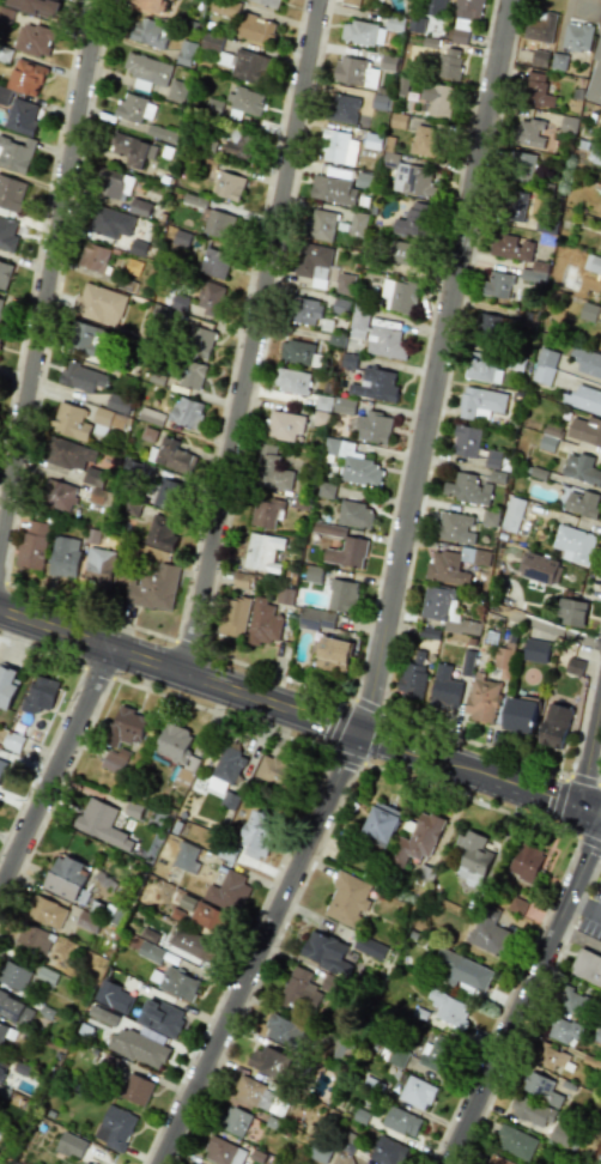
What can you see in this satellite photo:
building: (351, 1)
building: (268, 2)
building: (150, 5)
building: (35, 6)
building: (225, 7)
building: (435, 7)
building: (5, 14)
building: (465, 19)
building: (417, 24)
building: (540, 28)
building: (255, 29)
building: (150, 34)
building: (363, 34)
building: (577, 37)
building: (35, 40)
building: (212, 42)
building: (184, 53)
building: (539, 59)
building: (388, 62)
building: (449, 63)
building: (249, 67)
building: (147, 71)
building: (354, 73)
building: (25, 78)
building: (594, 79)
building: (175, 91)
building: (538, 91)
building: (5, 96)
building: (436, 101)
building: (245, 103)
building: (344, 108)
building: (134, 109)
building: (22, 117)
building: (397, 120)
building: (159, 133)
building: (529, 133)
building: (372, 141)
building: (426, 141)
building: (238, 144)
building: (338, 147)
building: (130, 150)
building: (16, 153)
building: (594, 154)
building: (522, 166)
building: (413, 181)
building: (113, 183)
building: (227, 186)
building: (332, 189)
building: (11, 193)
building: (515, 206)
building: (139, 207)
building: (413, 220)
building: (110, 223)
building: (217, 224)
building: (356, 224)
building: (320, 225)
building: (7, 235)
building: (511, 247)
building: (136, 248)
building: (403, 253)
building: (93, 256)
building: (214, 263)
building: (312, 263)
building: (591, 263)
road: (48, 266)
building: (4, 274)
building: (342, 284)
building: (497, 285)
building: (400, 295)
building: (210, 298)
building: (1, 304)
building: (98, 304)
building: (305, 311)
building: (588, 311)
building: (358, 326)
building: (492, 327)
building: (0, 335)
road: (250, 337)
building: (86, 338)
building: (198, 341)
building: (384, 342)
building: (600, 344)
building: (296, 352)
building: (588, 362)
road: (431, 365)
building: (545, 365)
building: (482, 368)
building: (192, 375)
building: (81, 377)
building: (291, 381)
building: (375, 384)
building: (584, 399)
building: (480, 402)
building: (117, 404)
building: (342, 405)
building: (187, 412)
building: (153, 417)
building: (108, 418)
building: (71, 422)
building: (284, 425)
building: (372, 428)
building: (585, 430)
building: (548, 439)
building: (466, 441)
building: (68, 454)
building: (171, 455)
building: (492, 459)
building: (353, 463)
building: (581, 468)
building: (271, 469)
building: (93, 477)
building: (467, 489)
building: (326, 490)
building: (57, 495)
building: (169, 495)
building: (578, 502)
building: (132, 509)
building: (266, 511)
building: (511, 514)
building: (354, 515)
building: (455, 528)
building: (160, 533)
building: (573, 544)
building: (34, 545)
building: (262, 550)
building: (348, 551)
building: (65, 557)
building: (99, 565)
building: (451, 565)
building: (538, 568)
building: (153, 587)
building: (341, 596)
building: (442, 608)
building: (571, 612)
building: (235, 618)
building: (315, 619)
building: (263, 623)
road: (544, 628)
building: (429, 632)
building: (536, 651)
building: (333, 654)
building: (503, 661)
building: (467, 662)
building: (575, 666)
road: (177, 672)
building: (413, 675)
building: (7, 687)
building: (444, 689)
building: (40, 695)
building: (482, 698)
building: (520, 715)
building: (554, 726)
building: (126, 727)
building: (12, 741)
building: (176, 745)
road: (588, 746)
building: (114, 762)
road: (450, 764)
building: (1, 766)
building: (272, 770)
road: (56, 771)
road: (560, 801)
building: (133, 810)
road: (588, 810)
building: (101, 824)
building: (380, 824)
building: (260, 835)
building: (418, 838)
road: (11, 839)
building: (471, 855)
building: (186, 857)
building: (527, 861)
road: (4, 874)
building: (66, 878)
building: (229, 892)
building: (346, 898)
building: (516, 905)
road: (584, 909)
building: (45, 911)
building: (208, 917)
building: (87, 921)
building: (487, 930)
road: (578, 938)
building: (34, 939)
building: (194, 945)
road: (256, 947)
building: (369, 947)
building: (150, 951)
building: (324, 952)
building: (587, 966)
building: (460, 971)
building: (14, 976)
building: (176, 983)
building: (299, 990)
building: (113, 996)
road: (523, 998)
building: (572, 1001)
building: (448, 1008)
building: (16, 1010)
building: (102, 1016)
building: (160, 1017)
building: (561, 1030)
building: (283, 1031)
building: (6, 1033)
building: (139, 1048)
building: (435, 1054)
building: (396, 1056)
building: (550, 1056)
building: (268, 1061)
building: (2, 1068)
building: (540, 1087)
building: (135, 1090)
building: (415, 1092)
building: (257, 1093)
building: (529, 1111)
building: (235, 1121)
building: (401, 1121)
building: (115, 1128)
building: (560, 1135)
building: (514, 1141)
building: (71, 1145)
building: (387, 1151)
building: (223, 1152)
building: (318, 1152)
building: (496, 1160)
building: (83, 1163)

